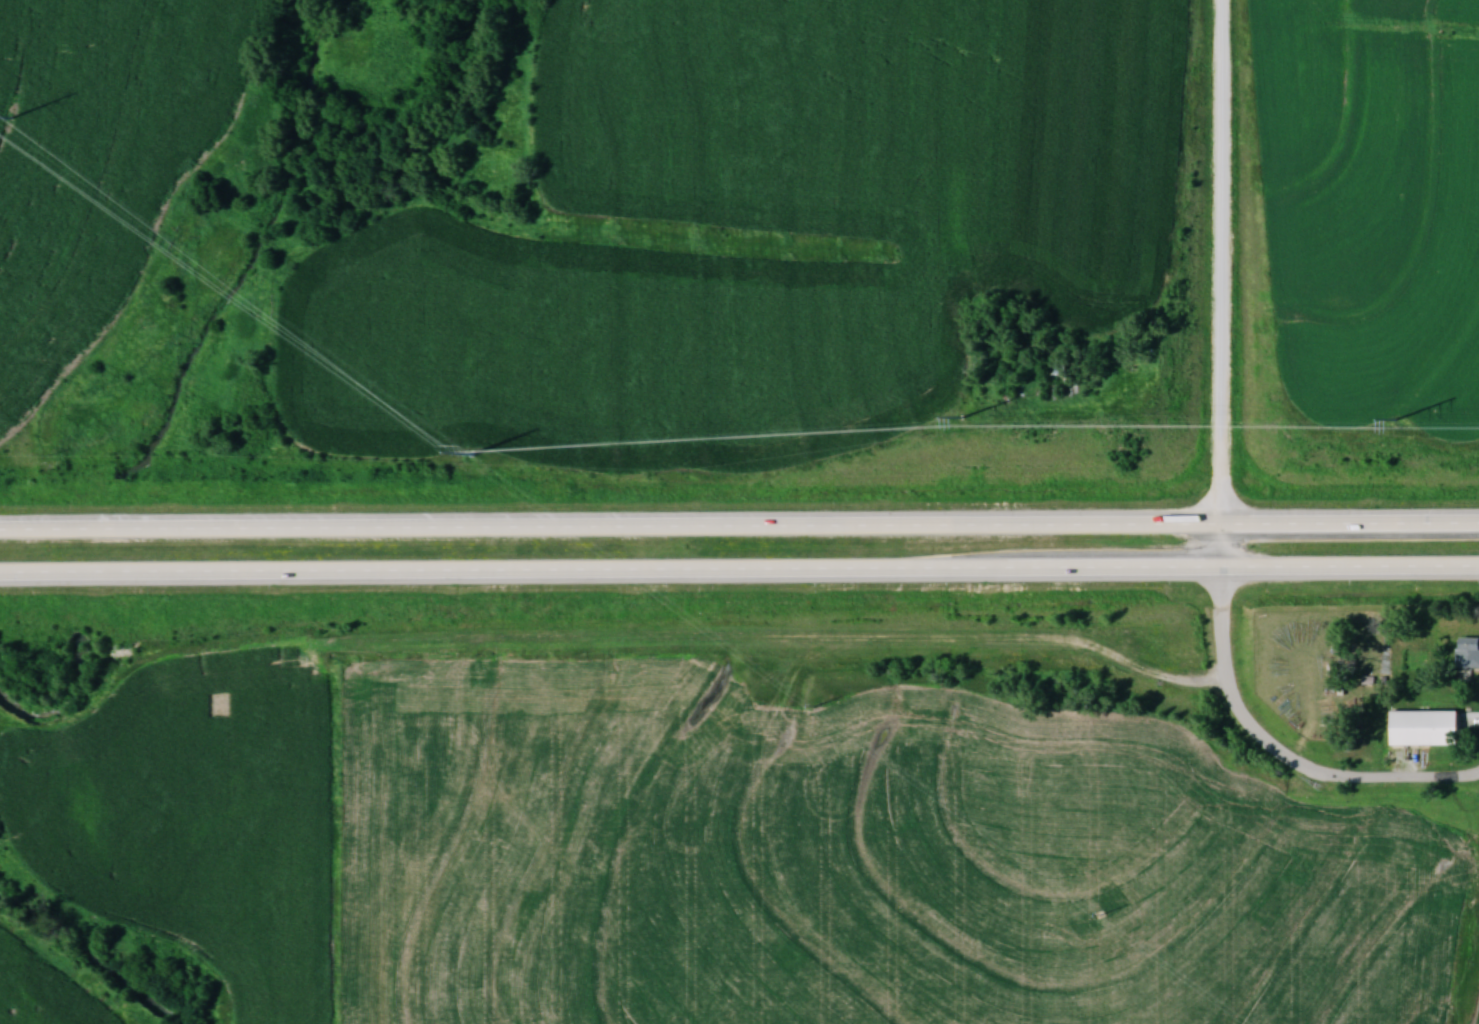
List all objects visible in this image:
power tower: (12, 117)
road: (1227, 286)
power tower: (964, 417)
power tower: (1395, 419)
power tower: (472, 452)
road: (739, 527)
road: (739, 575)
building: (1468, 652)
building: (1425, 728)
road: (1282, 756)

